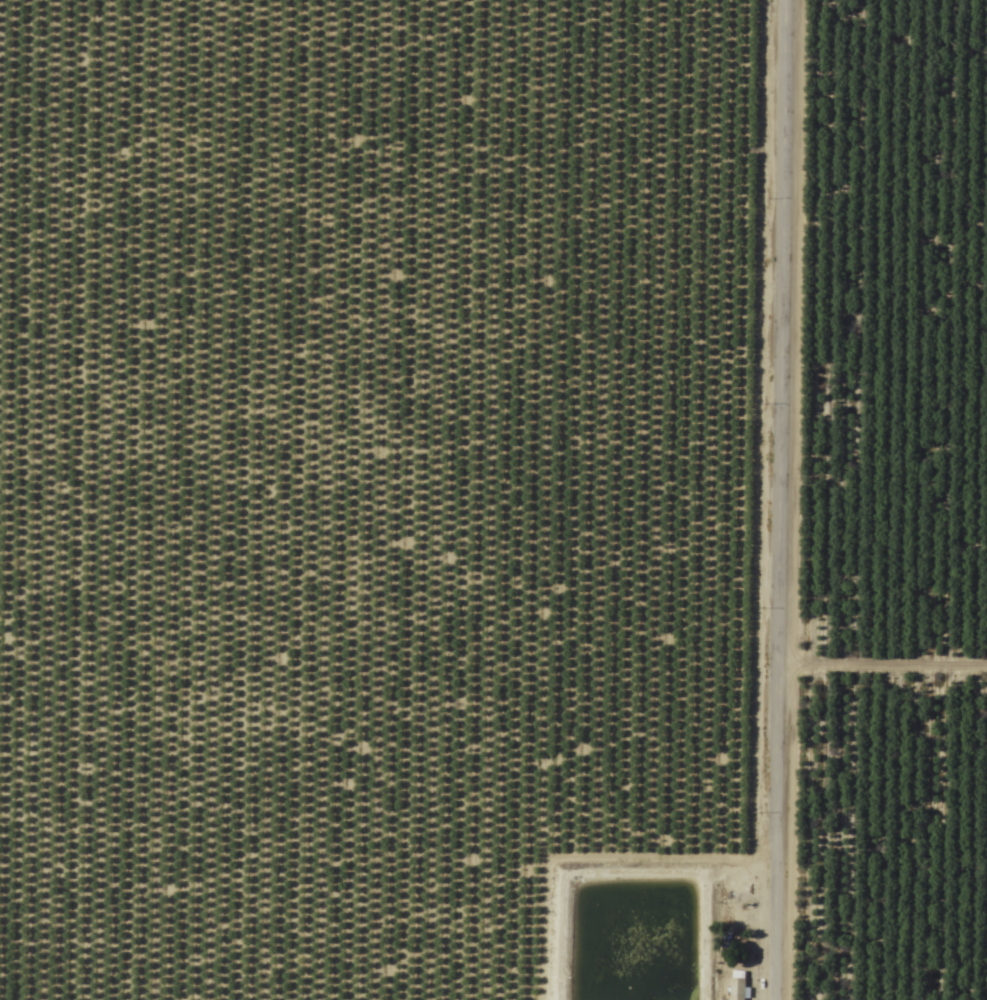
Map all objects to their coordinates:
crop: (493, 500)
road: (778, 500)
building: (736, 985)

